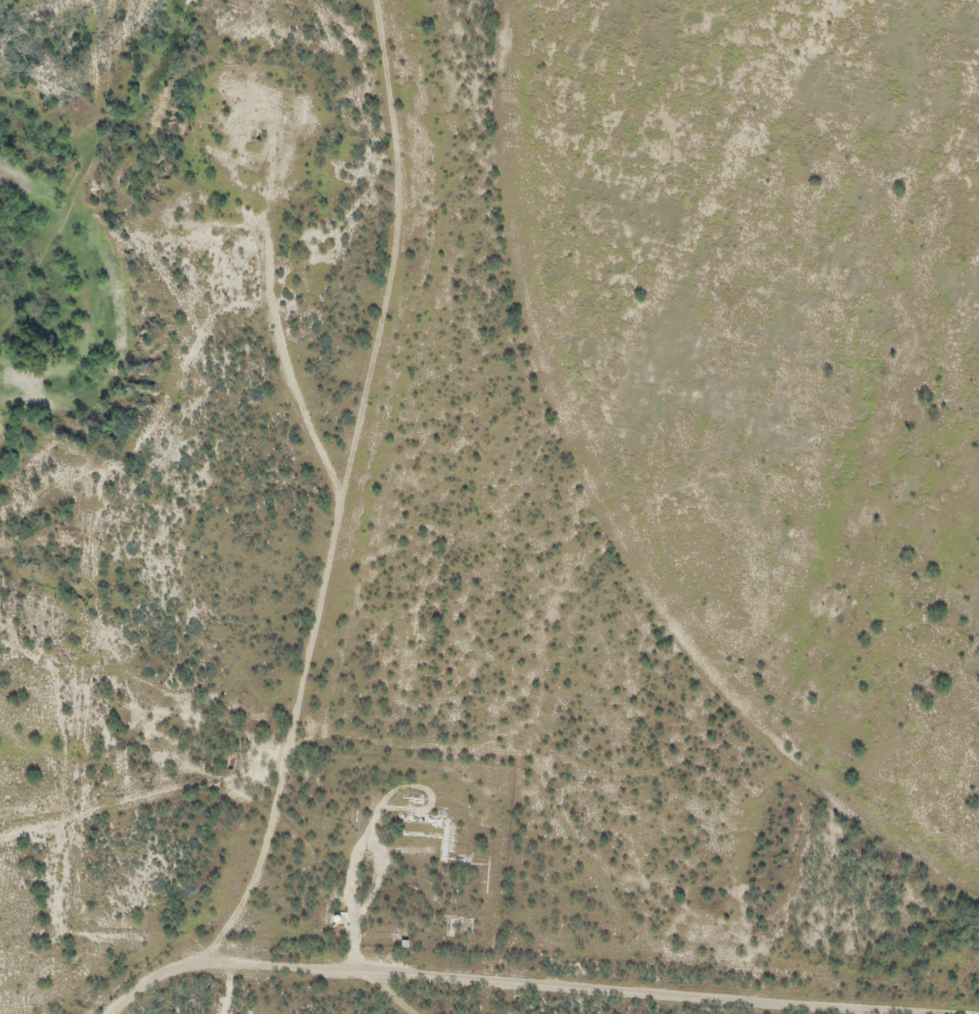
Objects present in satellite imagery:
road: (535, 986)
road: (385, 994)

